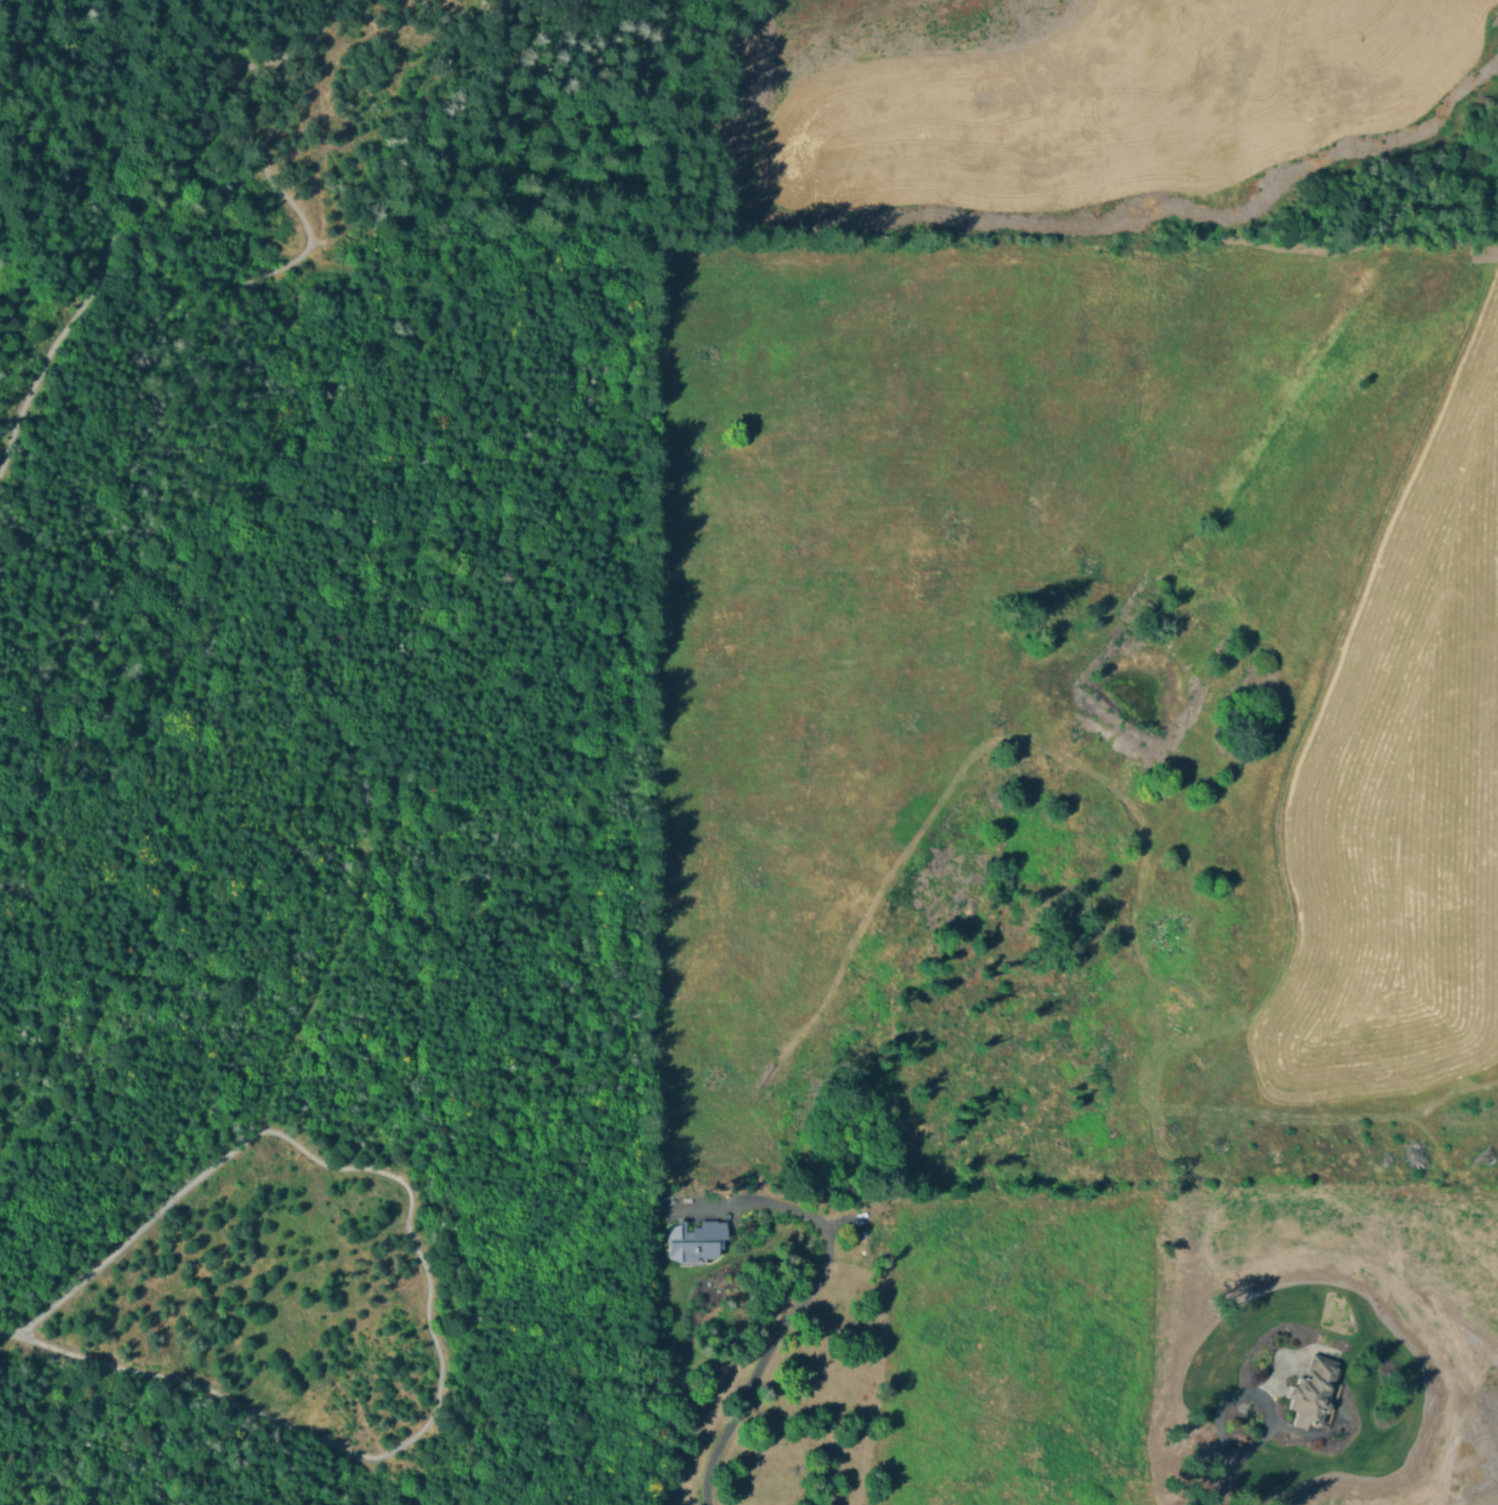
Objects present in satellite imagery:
crop: (1095, 94)
road: (274, 185)
road: (144, 235)
road: (52, 346)
building: (693, 1239)
road: (428, 1285)
road: (783, 1319)
road: (6, 1332)
road: (1250, 1390)
building: (1313, 1391)
road: (1216, 1485)

